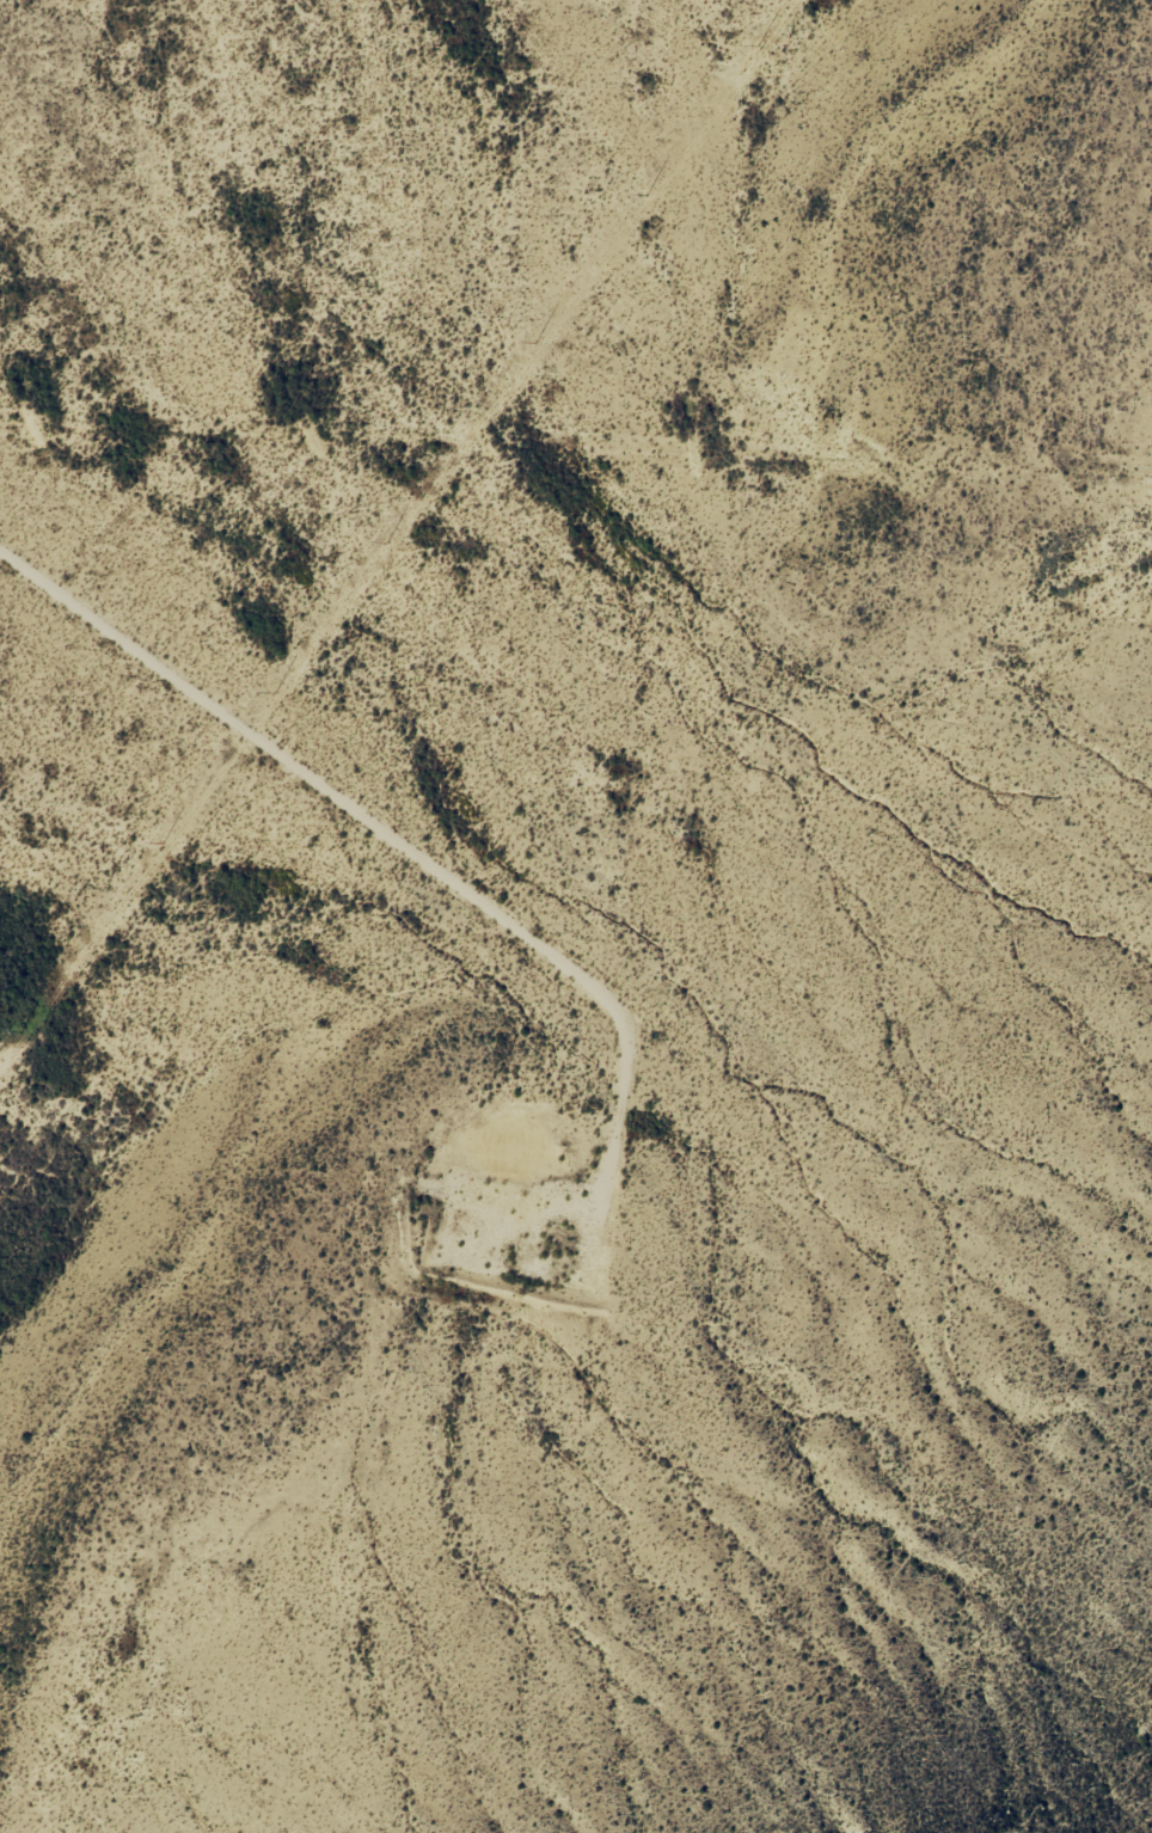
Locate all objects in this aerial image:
power tower: (756, 47)
power tower: (645, 197)
power tower: (535, 344)
power tower: (386, 545)
power tower: (274, 694)
power tower: (163, 844)
power tower: (22, 1032)

